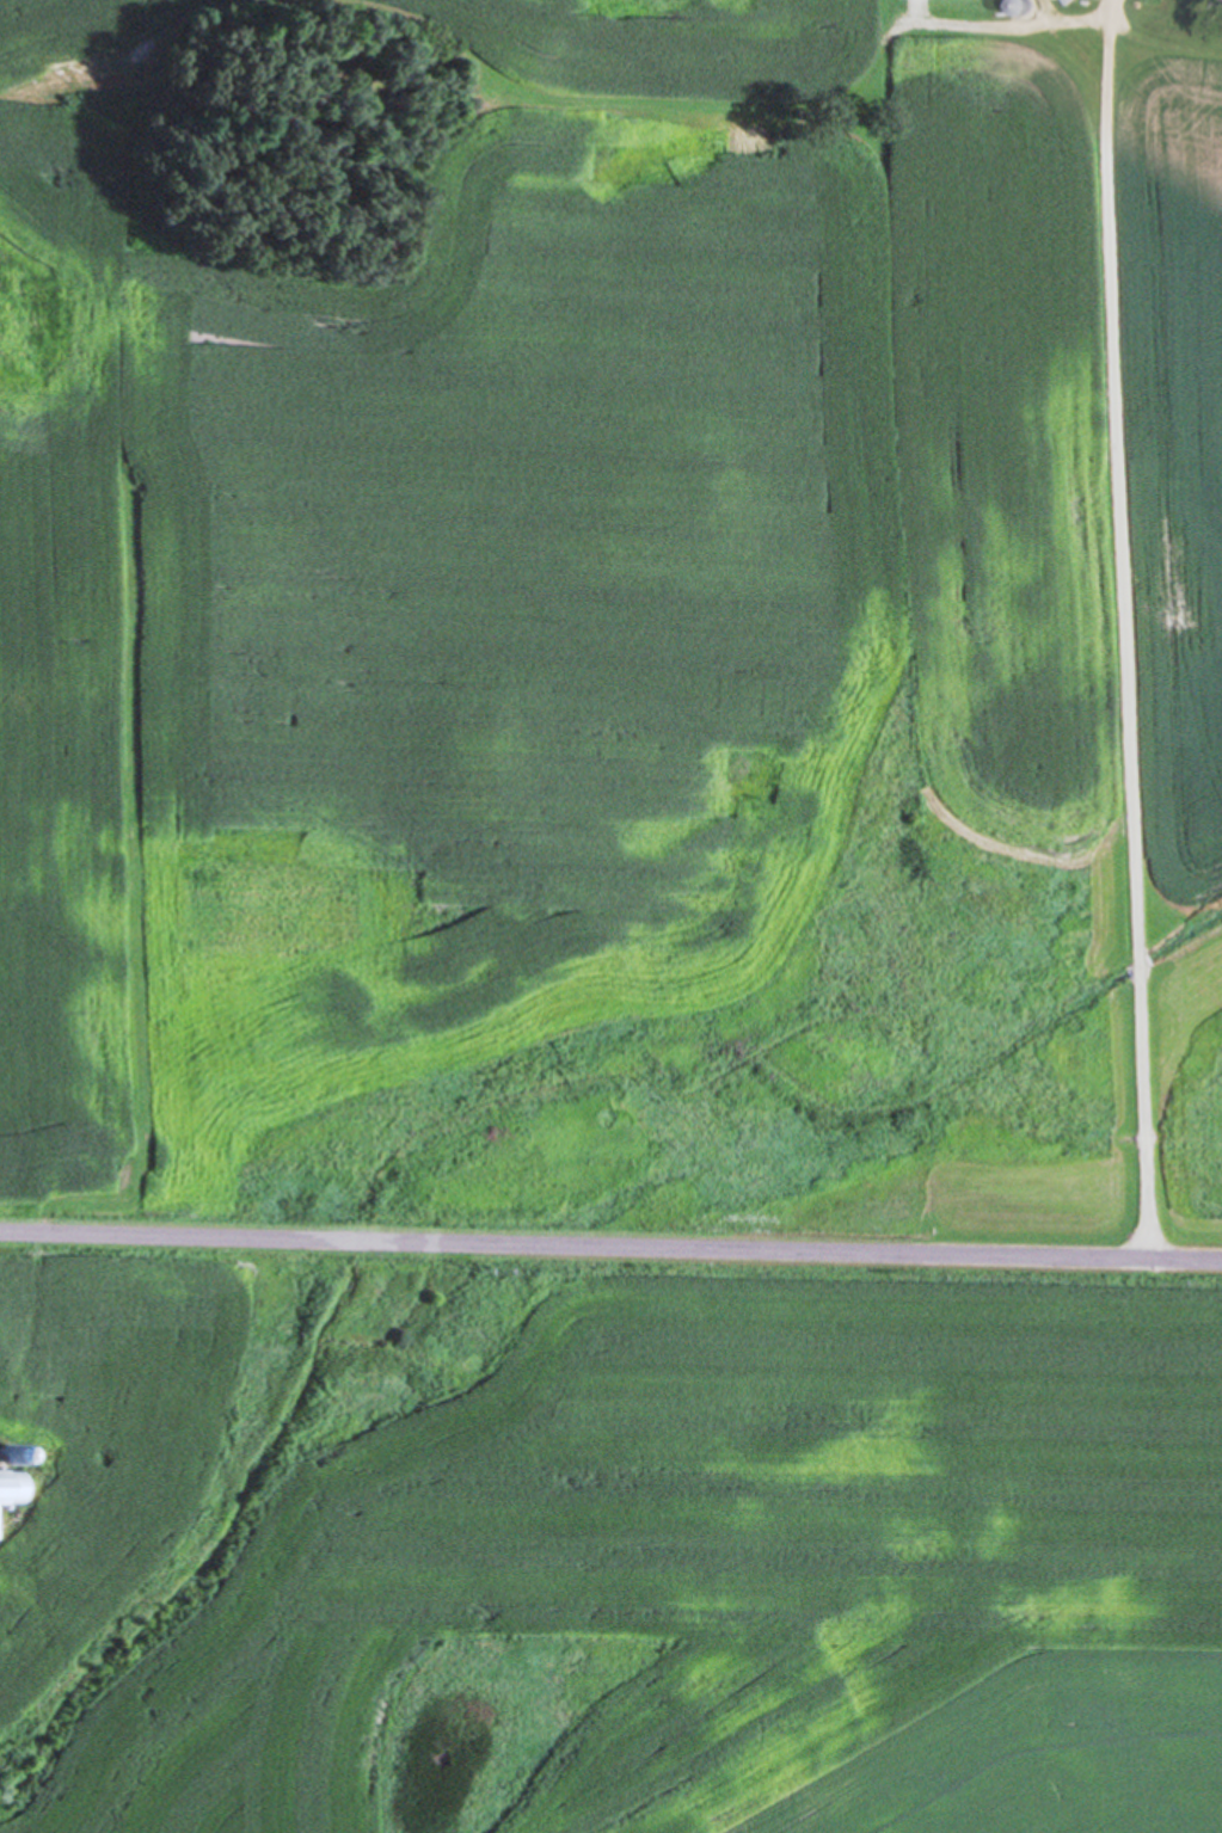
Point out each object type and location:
building: (1220, 0)
building: (1020, 8)
road: (1129, 625)
road: (610, 1241)
building: (4, 1456)
building: (10, 1488)

